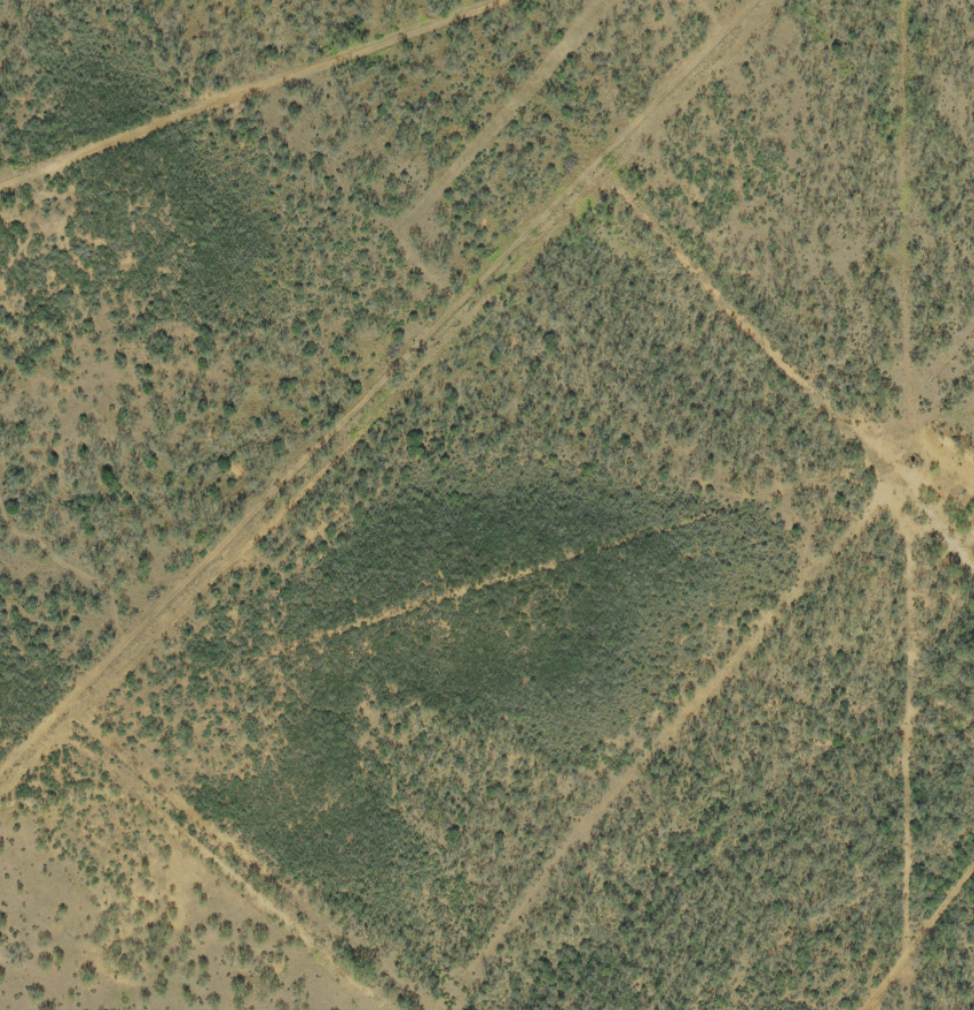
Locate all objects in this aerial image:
road: (210, 869)

